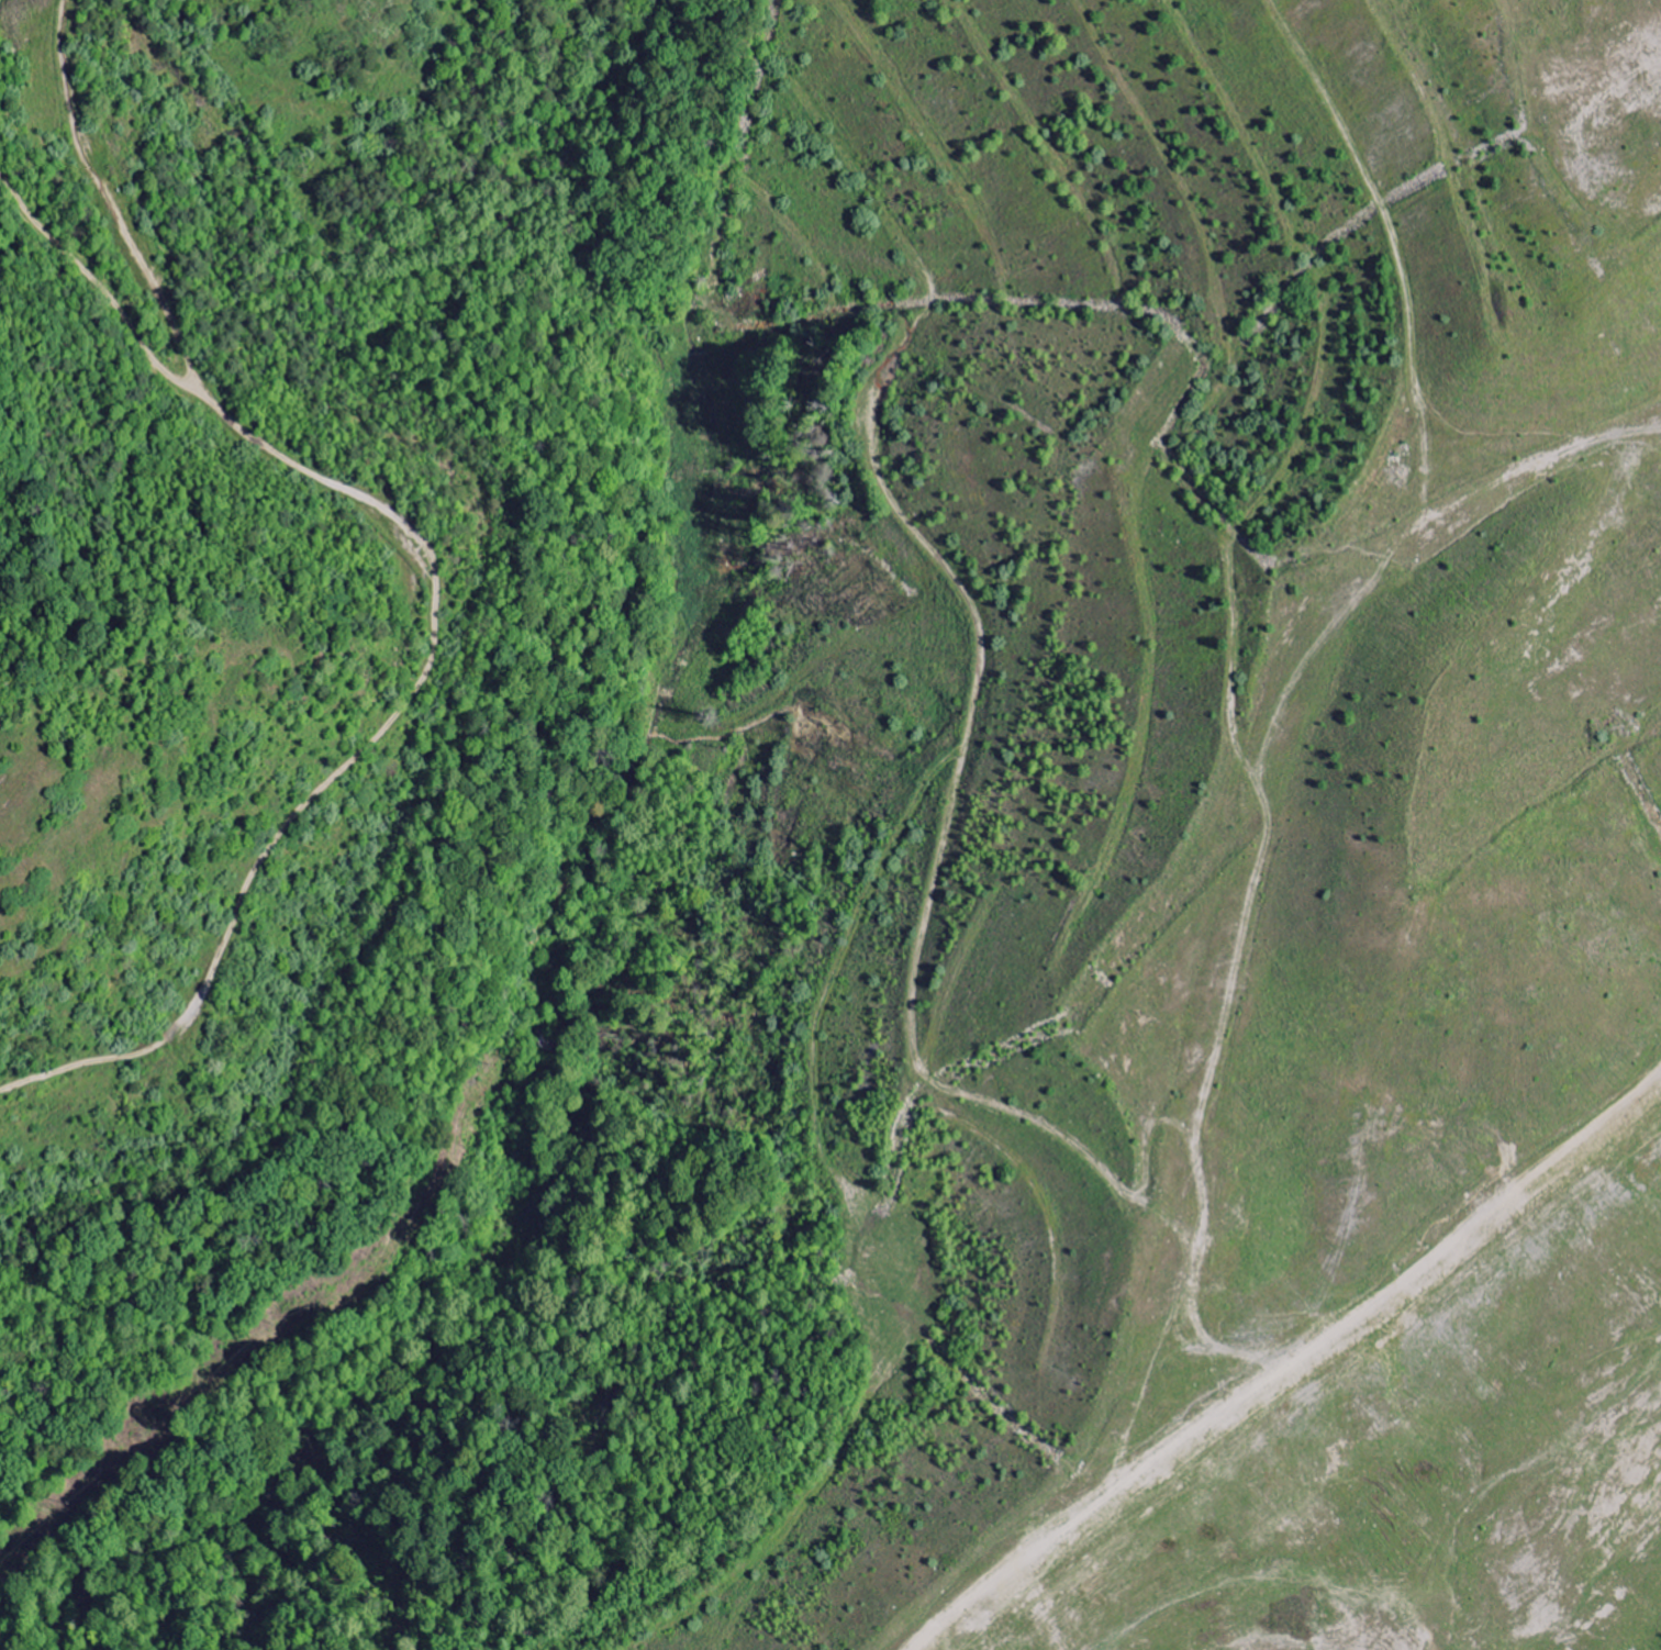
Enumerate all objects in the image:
quarry: (1075, 828)
road: (33, 1506)

